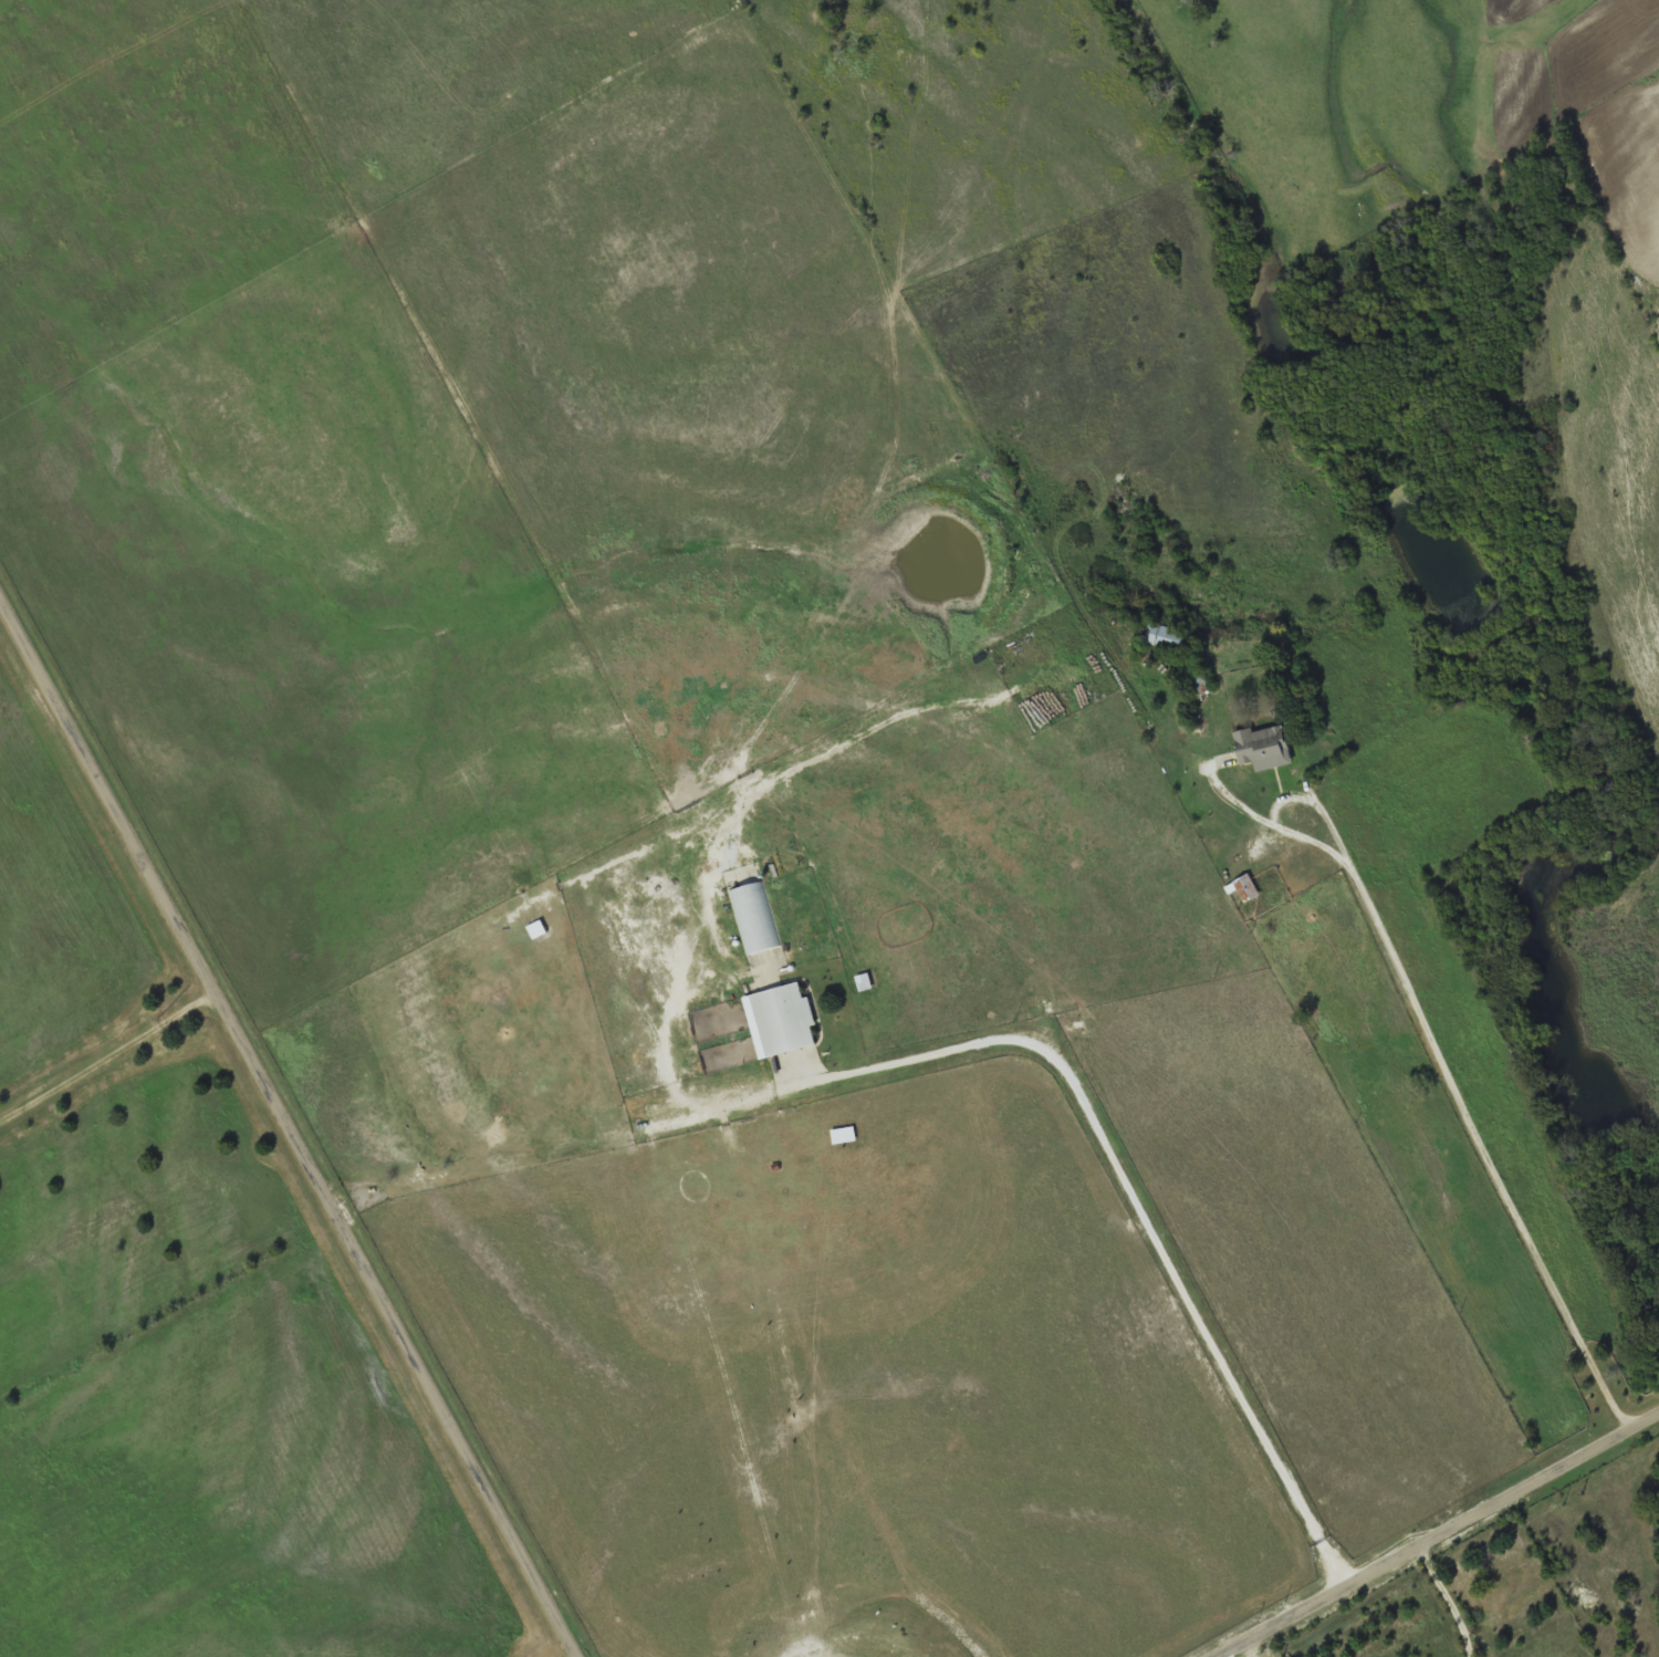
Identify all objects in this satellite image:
building: (1164, 637)
building: (1251, 666)
building: (1265, 748)
building: (1248, 888)
building: (754, 918)
building: (785, 1019)
road: (108, 1060)
road: (289, 1124)
road: (1441, 1536)

